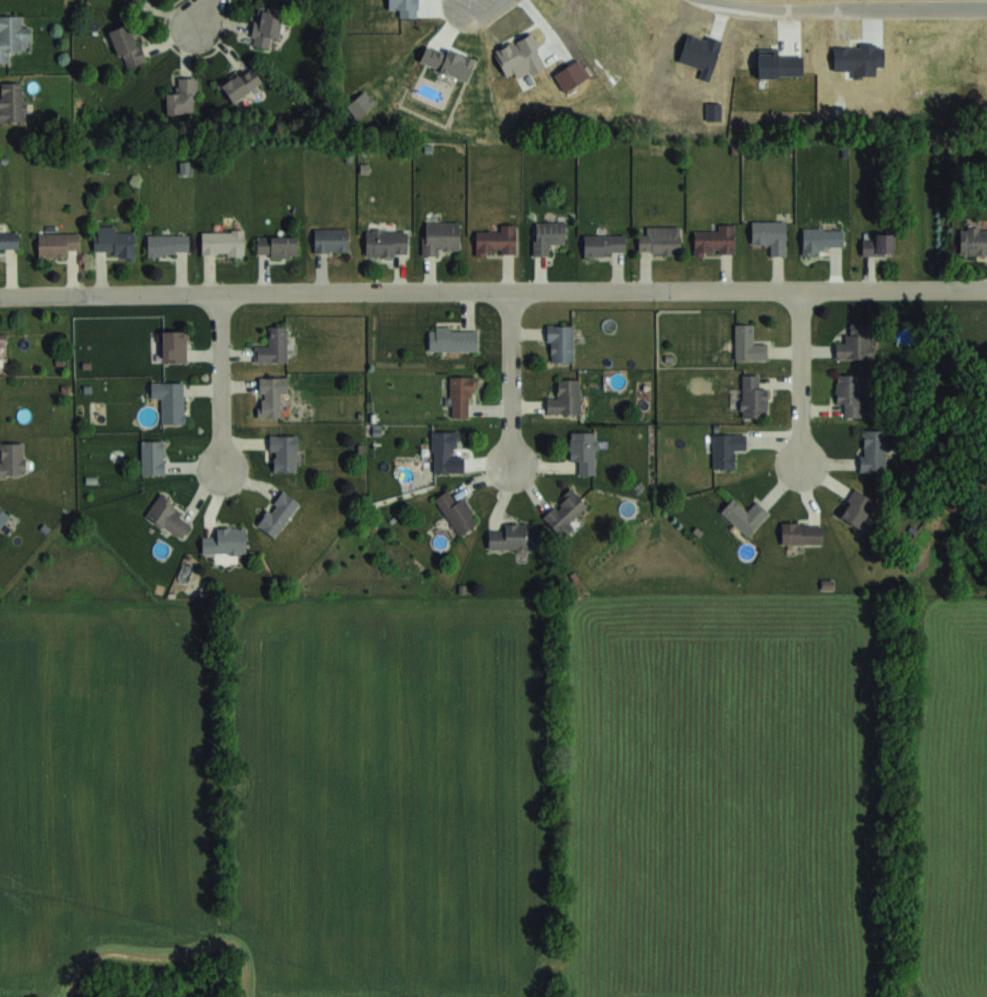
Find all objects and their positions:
road: (481, 1)
road: (854, 5)
road: (203, 12)
building: (11, 35)
building: (127, 46)
building: (241, 84)
building: (183, 97)
building: (12, 101)
building: (548, 235)
building: (770, 235)
building: (440, 236)
building: (9, 238)
building: (330, 239)
building: (659, 239)
building: (820, 239)
building: (497, 240)
building: (715, 240)
building: (973, 240)
building: (114, 241)
building: (222, 242)
building: (386, 242)
building: (57, 243)
building: (878, 243)
building: (168, 244)
building: (604, 244)
building: (277, 245)
road: (493, 290)
building: (452, 338)
building: (560, 342)
building: (856, 342)
building: (748, 343)
building: (174, 345)
building: (273, 345)
road: (799, 374)
road: (513, 378)
road: (222, 381)
building: (849, 393)
building: (271, 394)
building: (461, 394)
building: (753, 396)
building: (565, 397)
building: (170, 399)
building: (726, 448)
building: (443, 449)
building: (872, 449)
building: (583, 450)
building: (283, 452)
building: (152, 457)
building: (12, 459)
building: (856, 507)
building: (456, 511)
building: (565, 511)
building: (278, 513)
building: (169, 515)
building: (744, 515)
building: (3, 517)
building: (801, 532)
building: (512, 537)
building: (225, 541)
crop: (501, 795)

